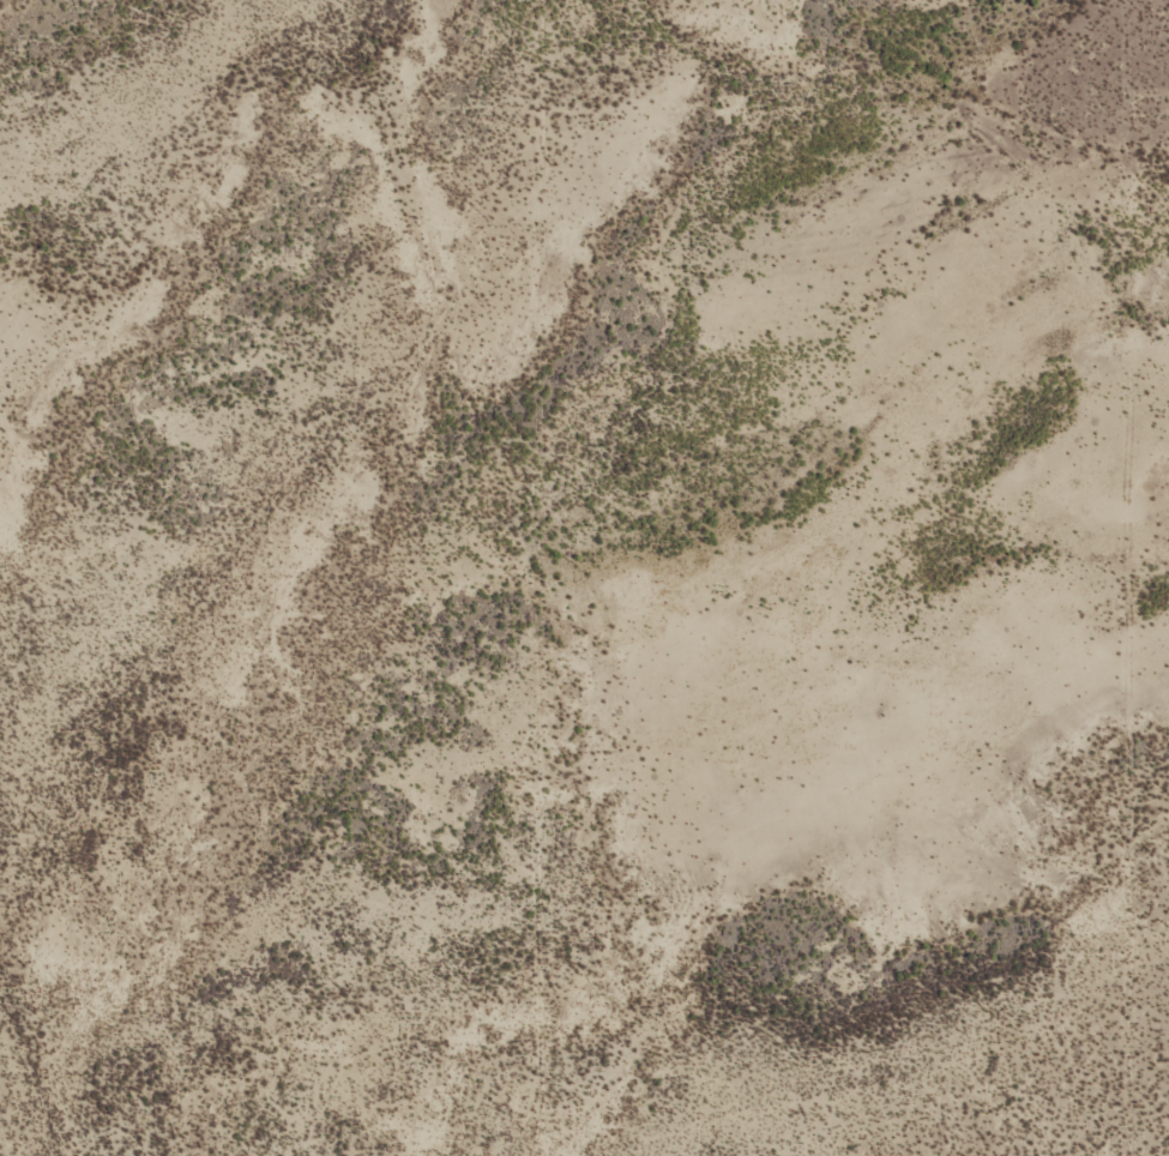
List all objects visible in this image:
road: (1032, 61)

